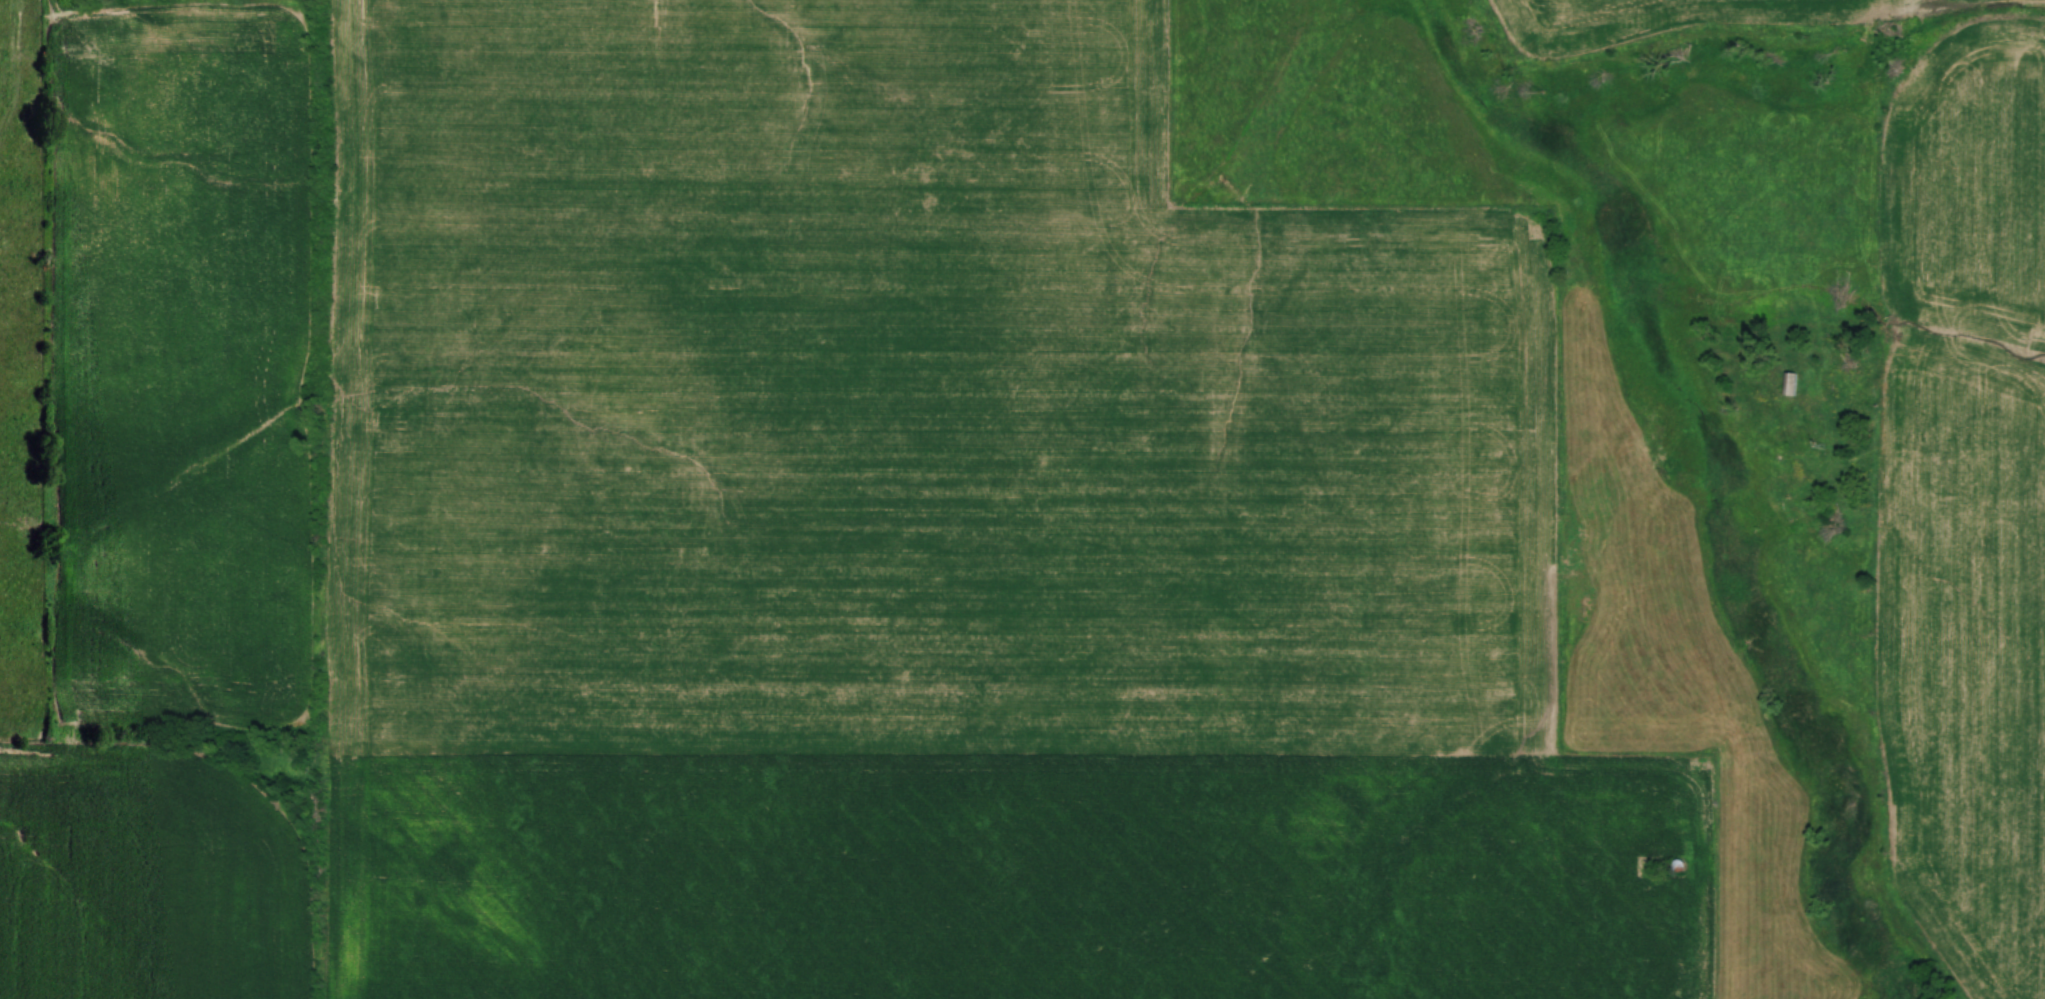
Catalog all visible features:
building: (1791, 383)

